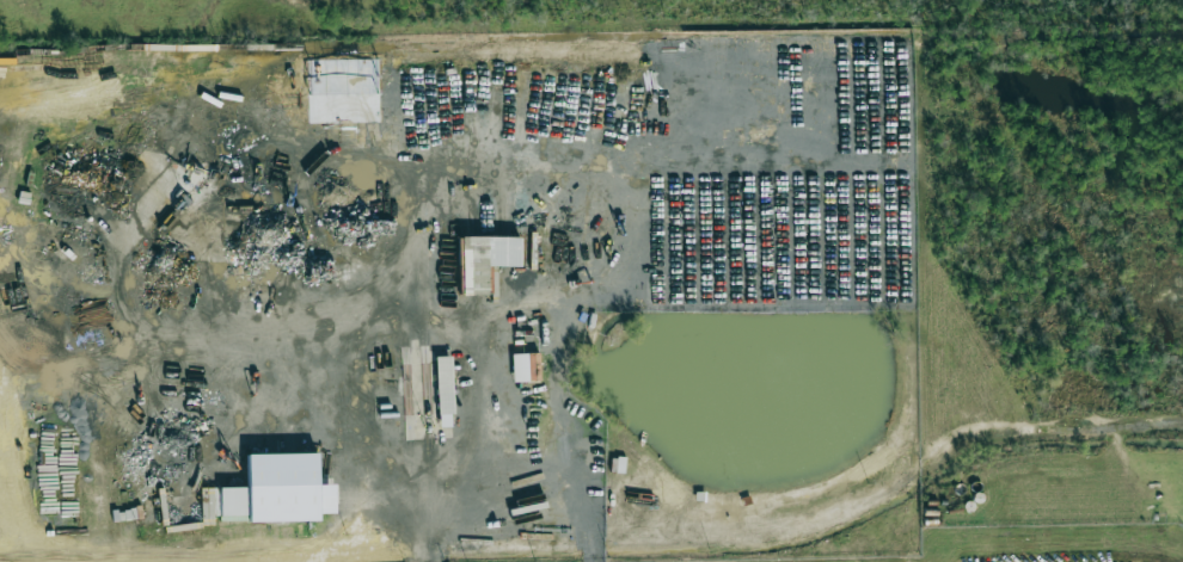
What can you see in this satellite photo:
building: (484, 260)
building: (445, 384)
road: (367, 436)
building: (283, 500)
road: (803, 519)
road: (597, 550)

